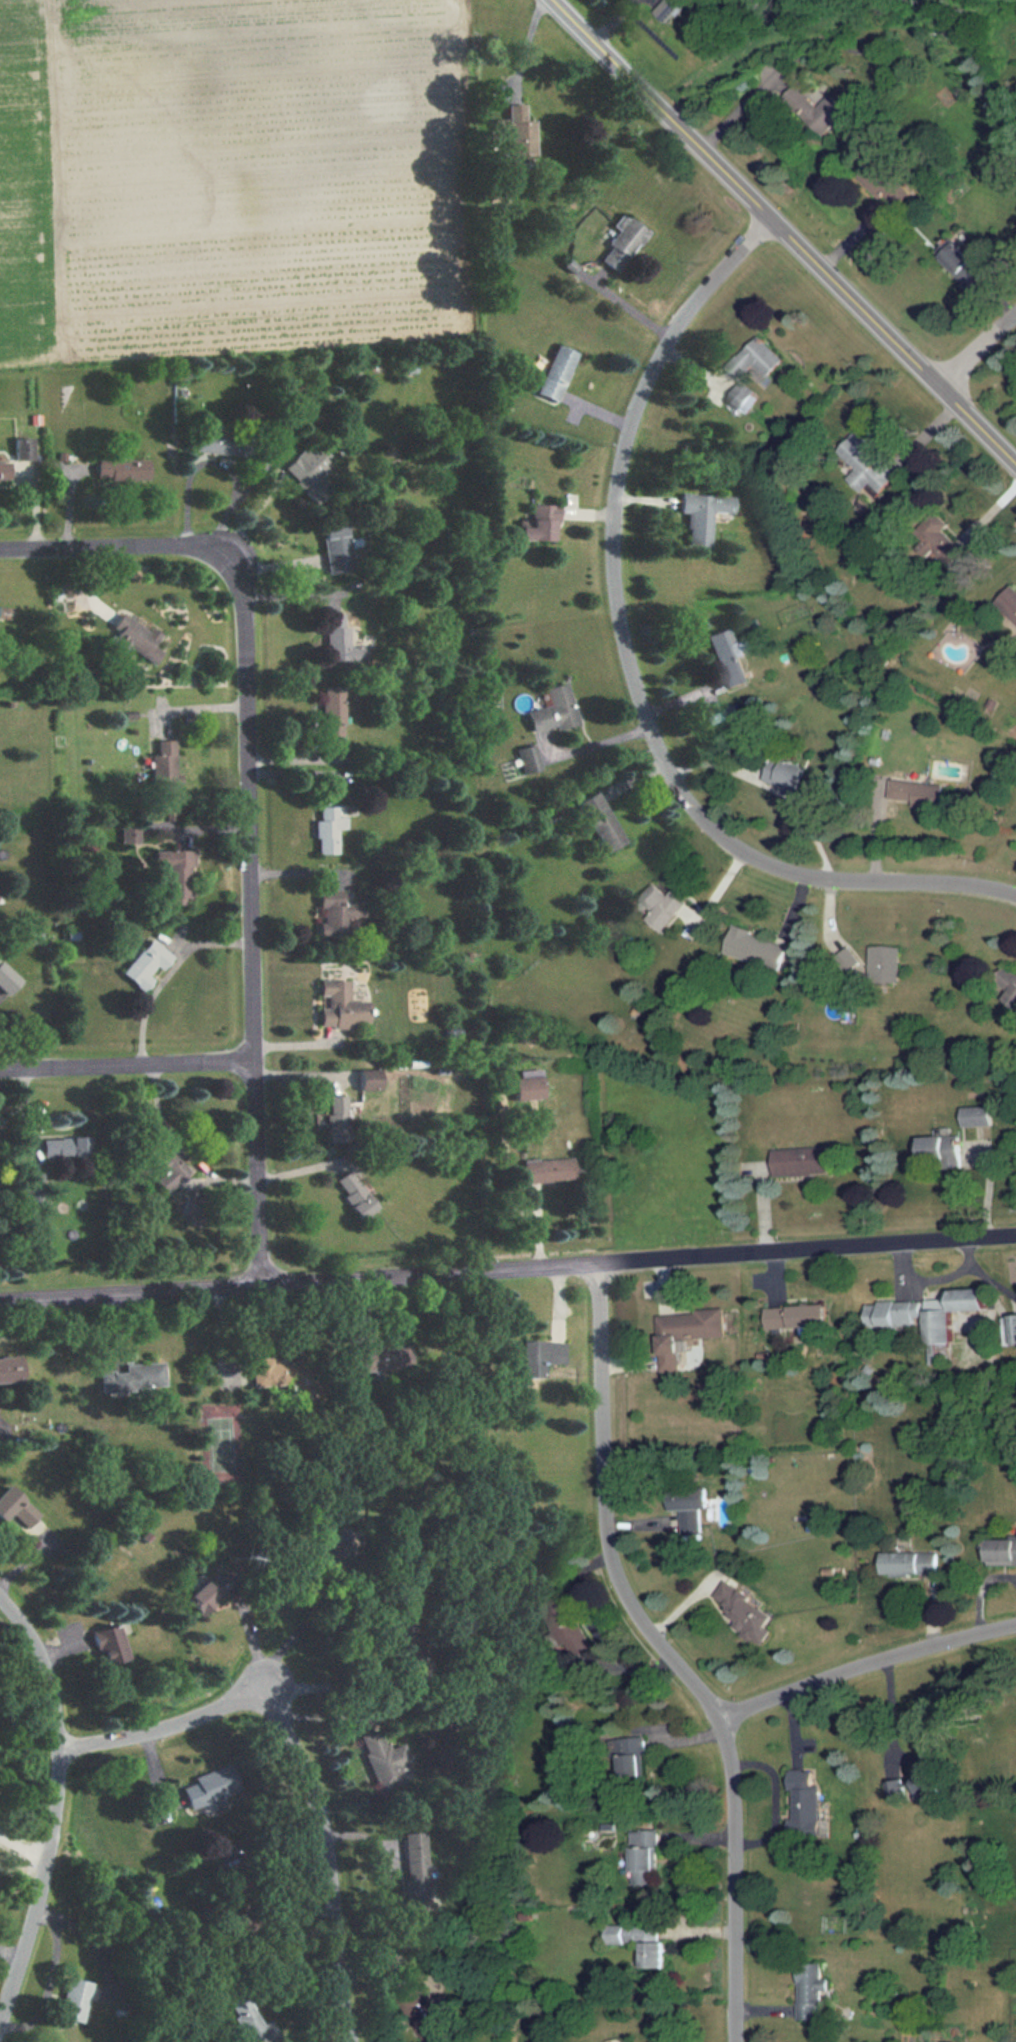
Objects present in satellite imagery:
road: (526, 45)
road: (740, 102)
building: (820, 112)
building: (521, 133)
crop: (265, 177)
building: (884, 184)
crop: (22, 191)
road: (789, 229)
building: (622, 243)
building: (963, 266)
road: (630, 301)
road: (979, 350)
building: (755, 358)
building: (556, 372)
building: (743, 397)
building: (221, 442)
building: (22, 446)
road: (217, 458)
building: (865, 464)
building: (121, 467)
building: (3, 468)
building: (307, 471)
building: (704, 514)
building: (540, 522)
building: (336, 545)
building: (951, 552)
building: (1009, 600)
building: (132, 638)
building: (342, 644)
building: (728, 659)
road: (635, 662)
building: (553, 709)
building: (332, 711)
building: (528, 758)
building: (164, 762)
building: (784, 773)
building: (922, 794)
road: (251, 798)
building: (602, 821)
building: (328, 829)
building: (174, 874)
building: (661, 906)
building: (335, 912)
building: (754, 943)
building: (846, 954)
building: (145, 963)
building: (8, 979)
building: (1005, 985)
building: (340, 1005)
road: (129, 1063)
building: (370, 1076)
building: (529, 1083)
building: (977, 1112)
building: (337, 1119)
building: (65, 1147)
road: (180, 1148)
building: (939, 1148)
building: (801, 1161)
building: (164, 1163)
building: (549, 1170)
building: (31, 1186)
building: (356, 1190)
road: (508, 1267)
road: (939, 1274)
road: (993, 1275)
building: (950, 1310)
building: (894, 1313)
building: (797, 1318)
building: (685, 1332)
building: (541, 1356)
building: (10, 1363)
building: (268, 1372)
building: (133, 1377)
park: (217, 1442)
building: (8, 1501)
building: (690, 1508)
building: (1002, 1551)
building: (909, 1563)
building: (210, 1590)
building: (744, 1609)
road: (300, 1631)
building: (109, 1648)
road: (673, 1652)
road: (868, 1664)
road: (327, 1680)
road: (887, 1724)
road: (300, 1752)
building: (382, 1760)
building: (208, 1787)
building: (914, 1787)
road: (775, 1803)
building: (807, 1805)
road: (58, 1810)
road: (23, 1855)
building: (644, 1857)
building: (414, 1872)
road: (50, 1979)
building: (812, 1992)
building: (75, 2000)
building: (246, 2020)

